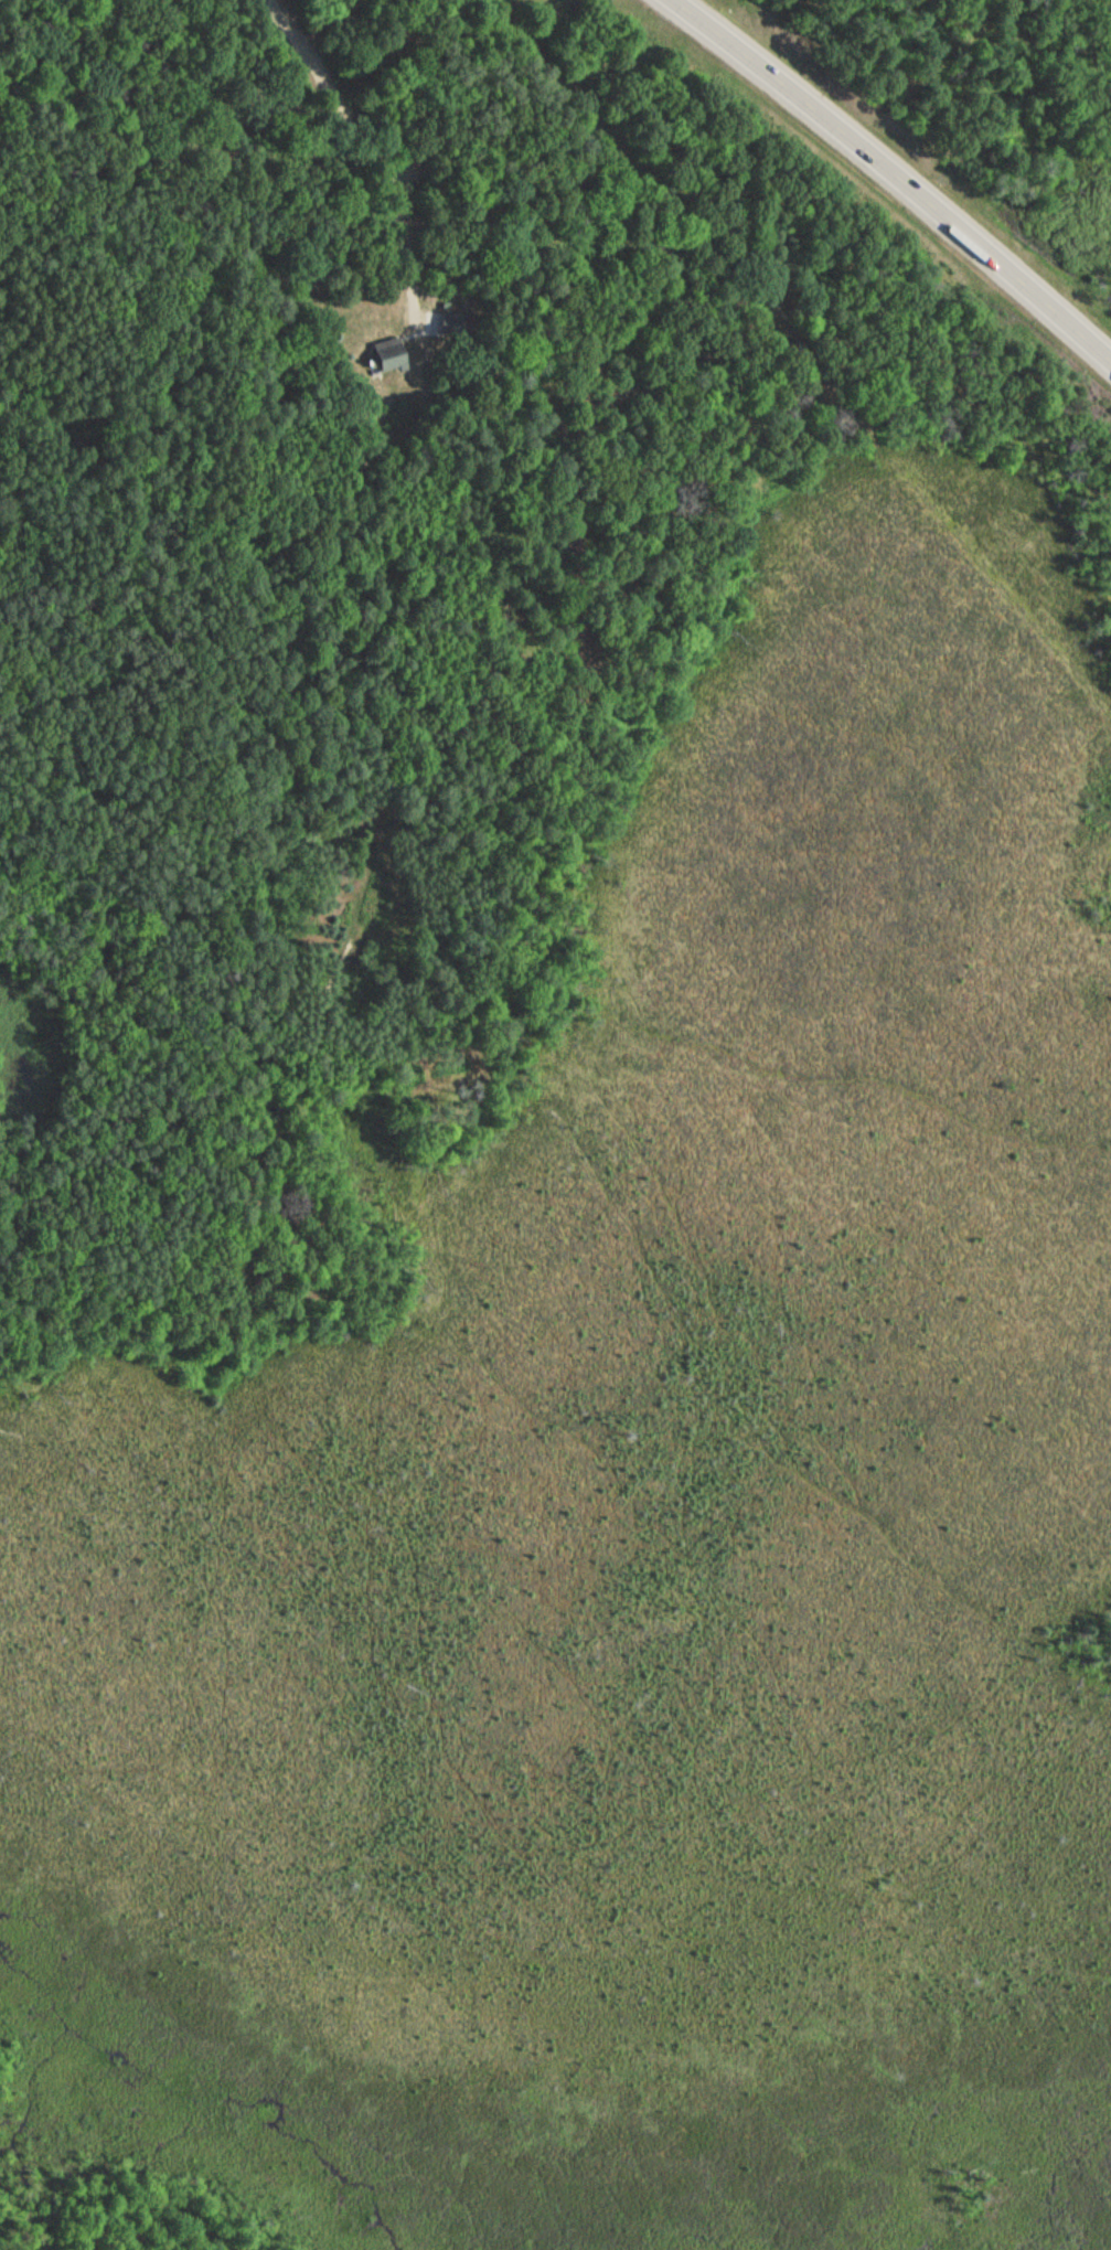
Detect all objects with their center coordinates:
road: (351, 121)
road: (897, 173)
building: (389, 354)

